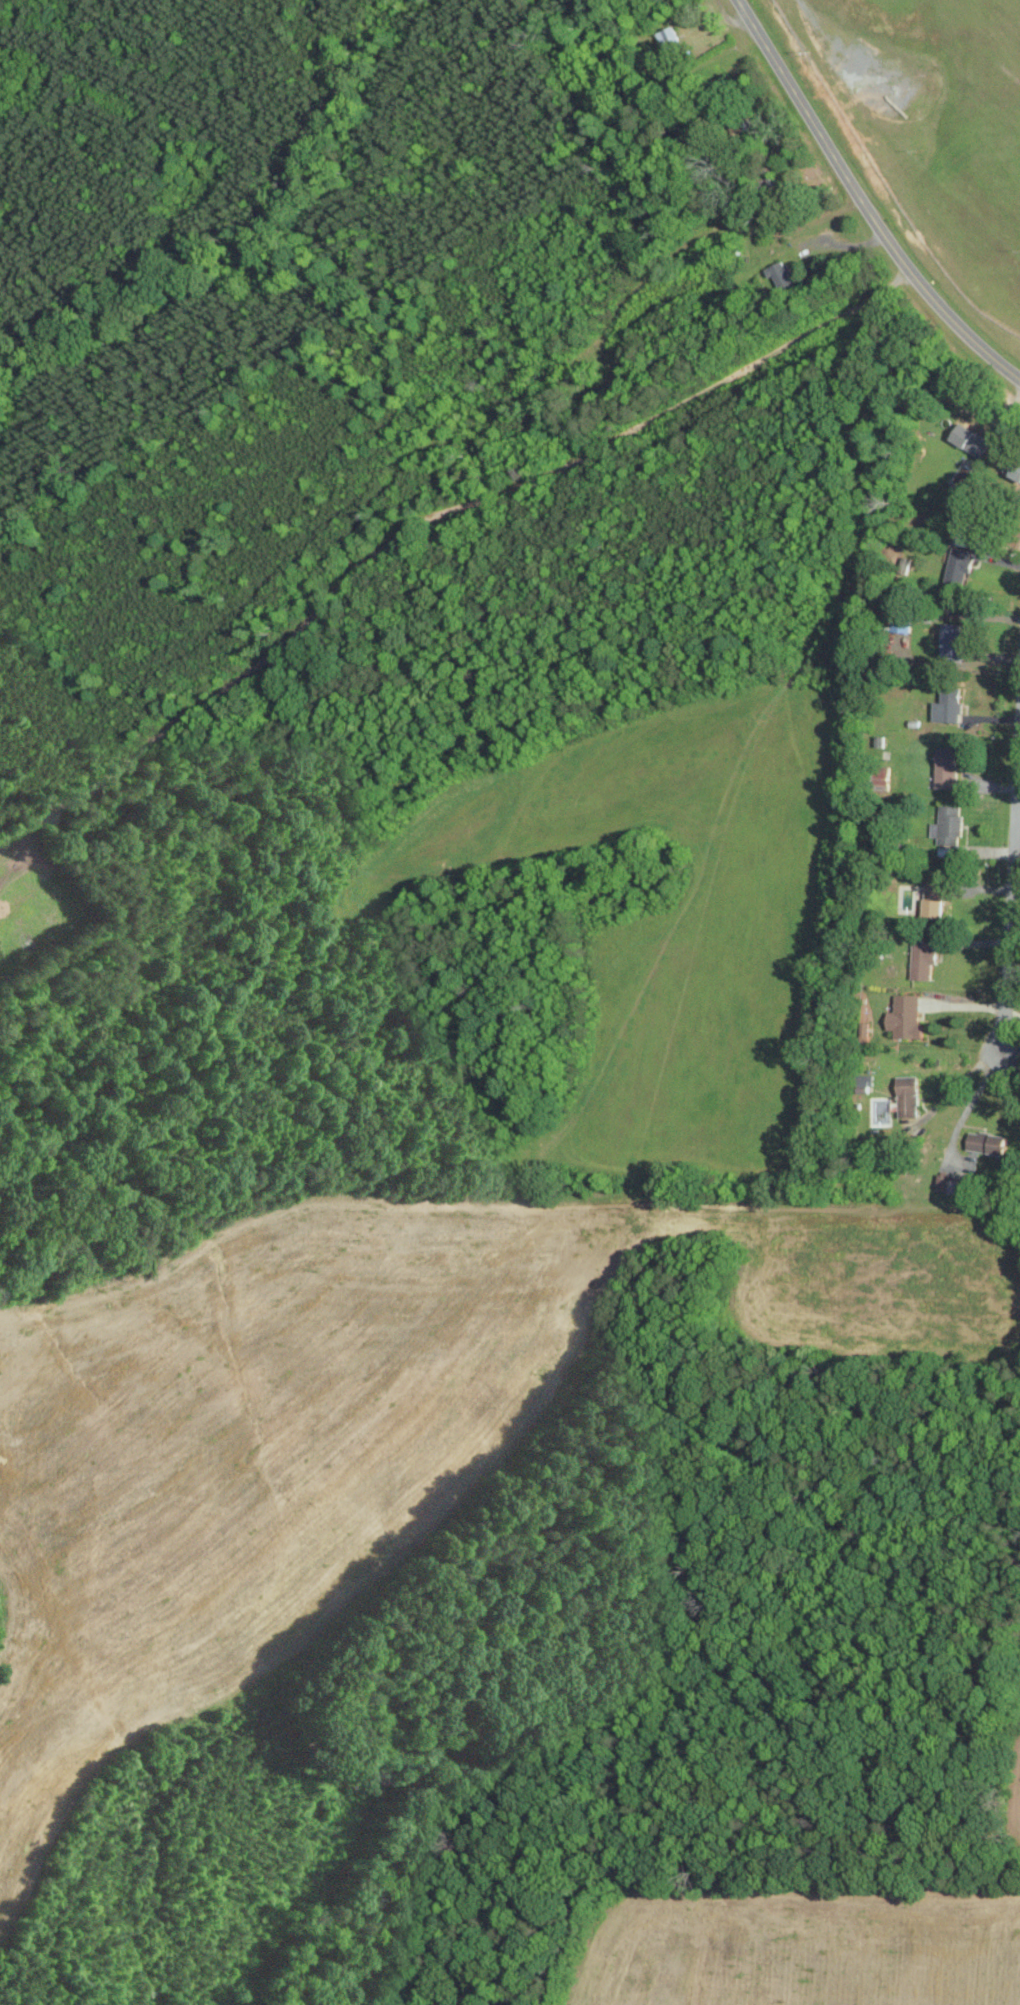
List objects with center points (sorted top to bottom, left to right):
building: (667, 38)
road: (861, 203)
road: (835, 242)
building: (970, 439)
building: (1016, 469)
building: (956, 564)
building: (950, 640)
building: (947, 705)
building: (946, 767)
building: (948, 825)
road: (1011, 887)
building: (934, 898)
building: (922, 959)
building: (905, 1017)
building: (864, 1031)
road: (1011, 1058)
road: (963, 1079)
building: (862, 1083)
building: (908, 1096)
road: (968, 1104)
building: (987, 1142)
building: (948, 1184)

